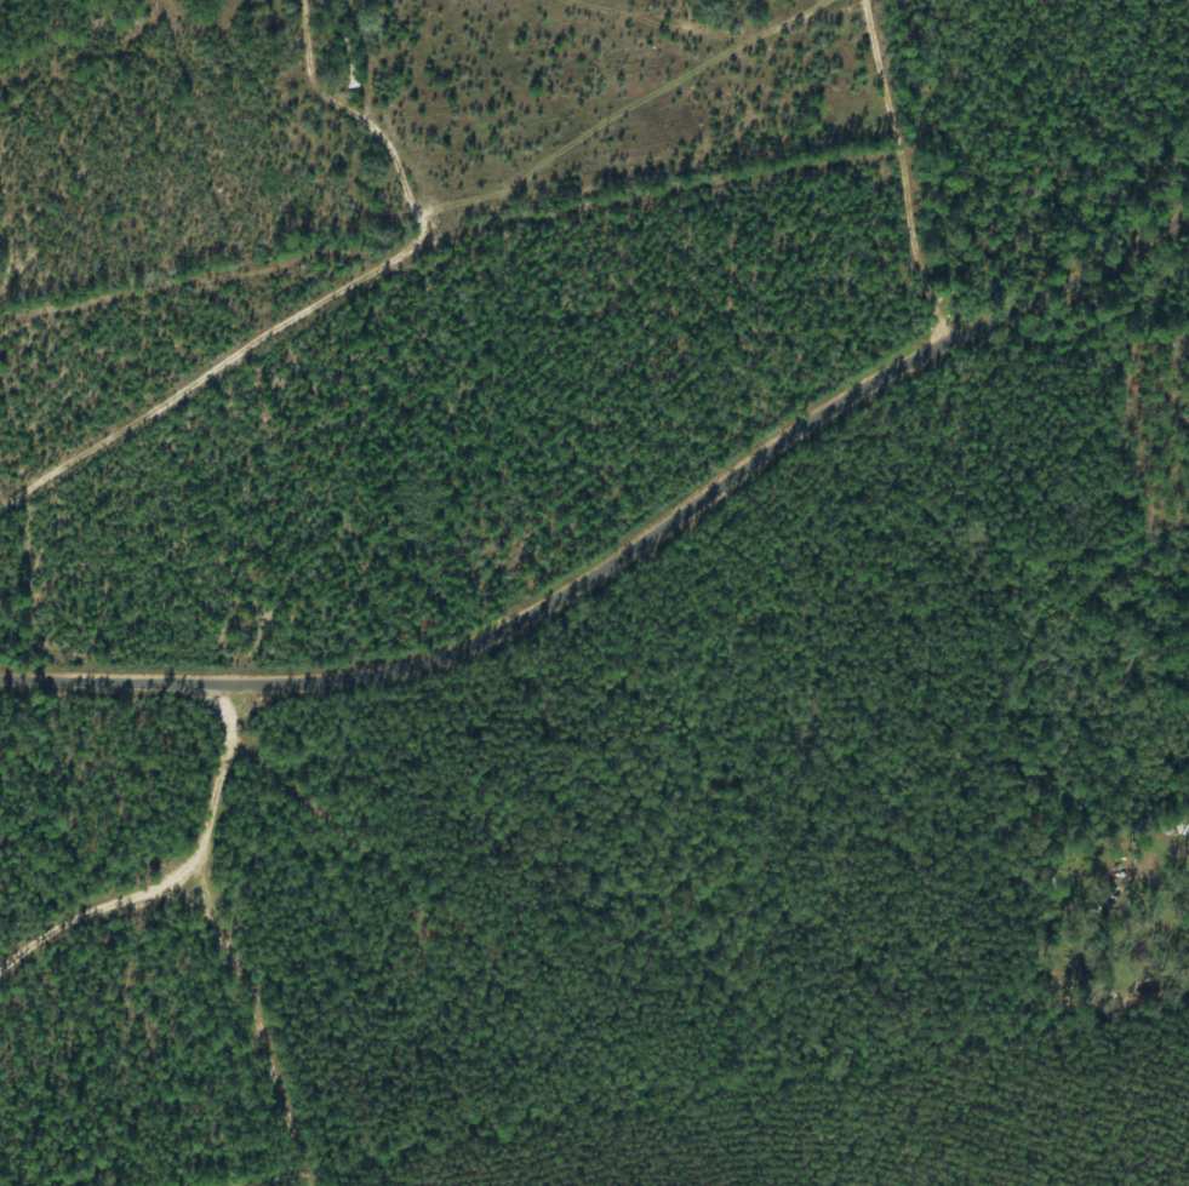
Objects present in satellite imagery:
road: (867, 156)
road: (614, 506)

